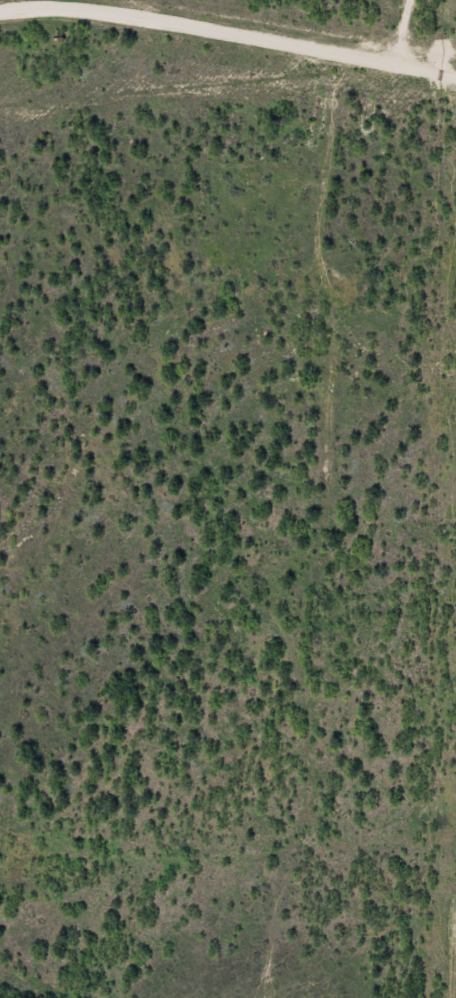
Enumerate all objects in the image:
road: (324, 25)
road: (231, 38)
road: (453, 101)
road: (229, 842)

